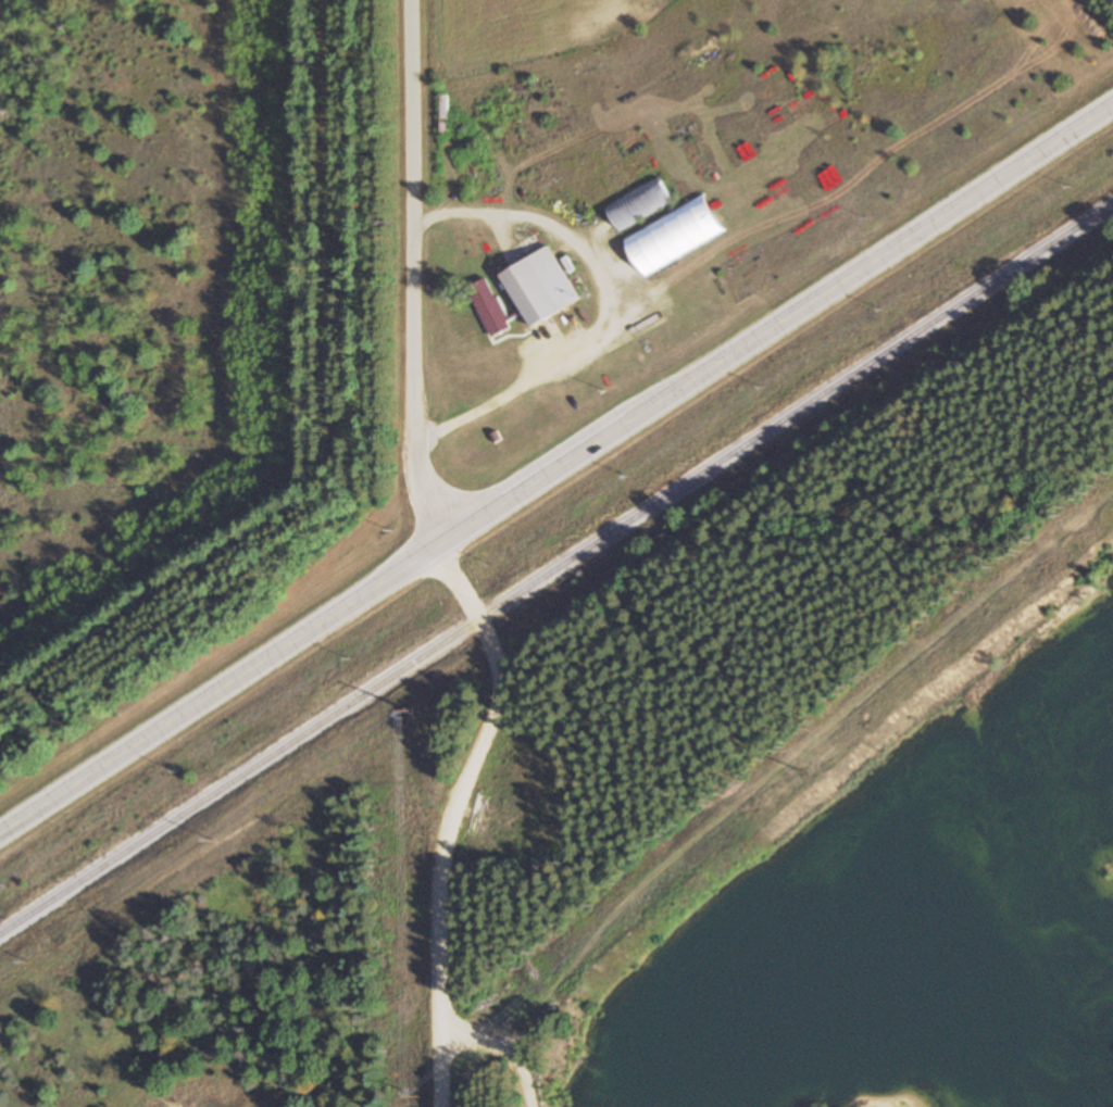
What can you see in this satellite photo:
building: (639, 203)
road: (416, 273)
airport: (125, 284)
building: (540, 287)
road: (556, 469)
railway: (555, 569)
road: (454, 816)

